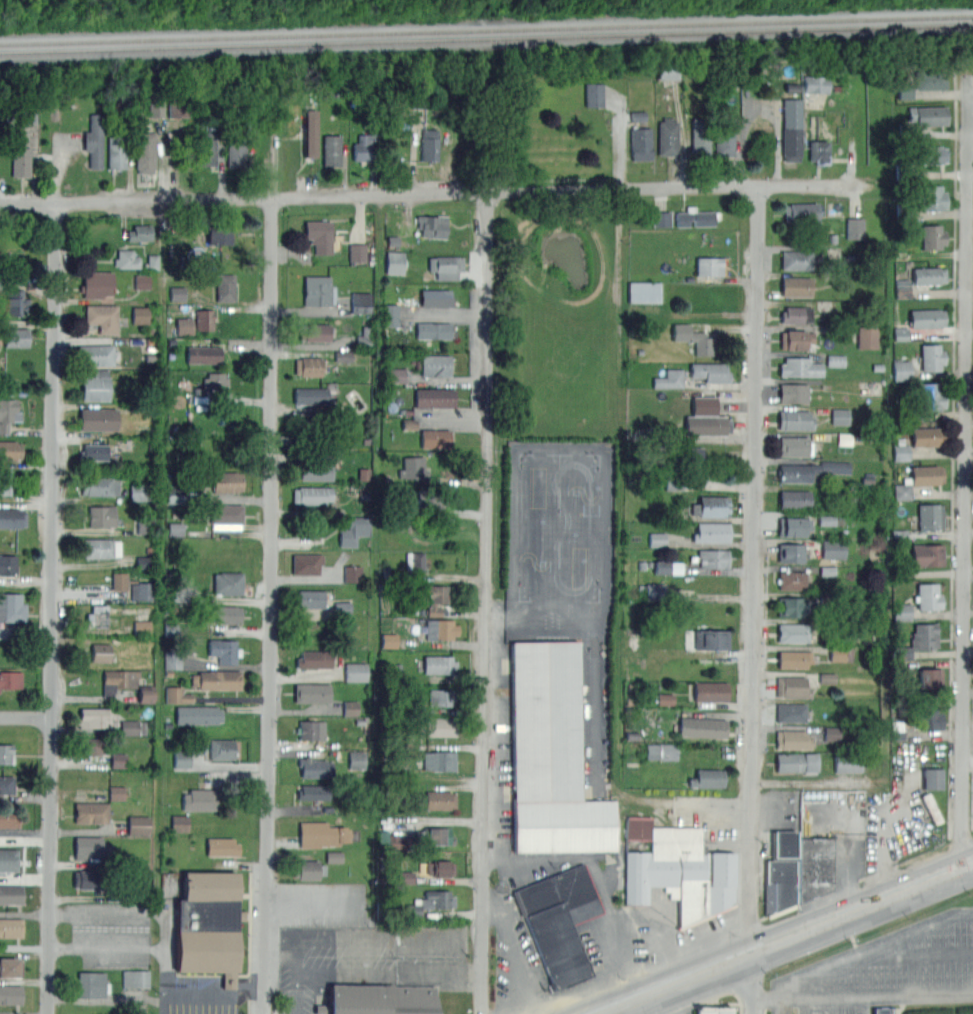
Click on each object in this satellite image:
railway: (486, 29)
railway: (486, 37)
building: (670, 73)
building: (932, 79)
building: (817, 84)
building: (906, 89)
building: (595, 93)
building: (420, 100)
building: (178, 107)
building: (155, 108)
building: (638, 115)
building: (928, 115)
building: (29, 117)
building: (791, 129)
building: (309, 132)
building: (667, 136)
building: (700, 136)
building: (723, 137)
building: (94, 140)
building: (640, 142)
road: (618, 143)
building: (429, 145)
building: (364, 146)
building: (206, 148)
building: (235, 148)
building: (819, 149)
building: (331, 150)
building: (117, 152)
building: (145, 152)
building: (929, 154)
building: (20, 160)
road: (422, 193)
building: (933, 197)
building: (801, 212)
building: (696, 217)
building: (662, 219)
building: (432, 225)
building: (855, 228)
building: (140, 233)
building: (219, 234)
building: (319, 235)
building: (932, 236)
building: (358, 252)
building: (126, 259)
building: (796, 260)
building: (153, 261)
building: (395, 262)
building: (445, 266)
building: (708, 266)
building: (928, 275)
building: (142, 282)
building: (96, 284)
building: (795, 286)
building: (224, 287)
building: (316, 290)
building: (644, 292)
building: (178, 293)
building: (436, 298)
building: (15, 302)
building: (361, 302)
building: (796, 314)
building: (140, 315)
building: (391, 315)
building: (102, 317)
building: (926, 318)
building: (204, 319)
building: (185, 326)
building: (432, 330)
building: (313, 332)
building: (901, 334)
building: (16, 337)
building: (365, 337)
building: (867, 337)
building: (692, 338)
building: (796, 339)
building: (95, 354)
building: (203, 354)
building: (343, 356)
building: (931, 357)
building: (836, 360)
building: (307, 366)
building: (437, 366)
building: (800, 366)
building: (902, 370)
building: (710, 372)
building: (398, 375)
building: (670, 379)
building: (213, 380)
building: (96, 385)
building: (792, 393)
building: (310, 395)
building: (931, 396)
building: (435, 398)
building: (8, 413)
building: (840, 416)
building: (97, 418)
building: (794, 419)
building: (409, 424)
building: (707, 424)
building: (312, 426)
building: (926, 436)
building: (435, 437)
building: (845, 439)
building: (793, 446)
building: (10, 450)
building: (93, 452)
building: (901, 452)
building: (687, 455)
road: (965, 464)
building: (315, 467)
building: (412, 467)
building: (810, 470)
building: (917, 480)
building: (4, 482)
building: (226, 482)
building: (100, 486)
building: (137, 491)
building: (311, 495)
building: (175, 498)
building: (431, 498)
building: (794, 500)
building: (711, 506)
building: (100, 516)
building: (225, 516)
building: (930, 516)
building: (12, 517)
building: (826, 520)
building: (792, 527)
building: (176, 529)
building: (353, 531)
building: (711, 532)
building: (658, 539)
building: (99, 548)
building: (834, 549)
building: (790, 552)
building: (927, 555)
building: (712, 558)
building: (415, 560)
building: (306, 563)
building: (8, 565)
building: (669, 567)
building: (353, 573)
road: (52, 574)
road: (268, 575)
building: (792, 580)
building: (121, 581)
building: (227, 583)
building: (142, 591)
building: (655, 591)
building: (927, 596)
building: (434, 597)
building: (308, 598)
road: (754, 598)
road: (486, 603)
building: (791, 606)
building: (11, 607)
building: (343, 608)
building: (902, 612)
building: (225, 613)
building: (97, 616)
building: (142, 627)
building: (440, 628)
road: (517, 632)
building: (793, 632)
building: (924, 636)
building: (711, 638)
building: (389, 640)
building: (224, 650)
building: (100, 652)
building: (841, 654)
building: (313, 658)
building: (794, 658)
building: (172, 660)
building: (438, 664)
building: (356, 672)
building: (929, 677)
building: (11, 679)
building: (118, 679)
building: (216, 679)
building: (791, 686)
building: (710, 691)
building: (311, 692)
building: (146, 694)
building: (177, 695)
building: (441, 697)
building: (665, 699)
building: (350, 708)
building: (791, 713)
building: (199, 715)
road: (25, 716)
building: (96, 717)
building: (929, 717)
building: (439, 726)
building: (701, 726)
building: (133, 728)
building: (312, 730)
building: (832, 734)
building: (793, 739)
building: (92, 746)
building: (222, 750)
building: (662, 752)
building: (7, 755)
parking lot: (579, 755)
building: (551, 757)
building: (118, 759)
building: (182, 759)
building: (357, 760)
building: (440, 761)
building: (797, 762)
building: (848, 764)
building: (316, 767)
building: (709, 778)
building: (933, 778)
building: (7, 785)
building: (313, 792)
building: (116, 793)
building: (202, 800)
building: (441, 800)
building: (931, 809)
building: (92, 813)
building: (9, 819)
road: (715, 822)
building: (180, 823)
parking lot: (778, 823)
building: (138, 825)
parking lot: (836, 827)
parking lot: (895, 831)
building: (323, 835)
building: (435, 836)
road: (851, 836)
building: (399, 842)
road: (884, 843)
building: (784, 844)
building: (91, 847)
building: (223, 847)
building: (334, 856)
building: (9, 860)
building: (813, 865)
road: (594, 866)
building: (441, 868)
building: (308, 869)
building: (682, 873)
building: (405, 877)
building: (98, 884)
road: (510, 886)
building: (778, 886)
building: (12, 894)
building: (432, 902)
road: (316, 903)
parking lot: (326, 904)
road: (122, 916)
building: (559, 921)
building: (208, 925)
building: (12, 928)
parking lot: (109, 932)
road: (446, 938)
road: (787, 940)
road: (140, 947)
road: (872, 948)
road: (521, 949)
road: (909, 956)
parking lot: (366, 960)
road: (644, 965)
building: (12, 967)
parking lot: (886, 970)
road: (661, 974)
road: (308, 977)
building: (136, 978)
parking lot: (196, 980)
building: (91, 984)
road: (319, 984)
building: (11, 994)
road: (215, 995)
road: (297, 995)
road: (862, 995)
building: (379, 999)
road: (671, 1001)
road: (319, 1003)
building: (713, 1010)
building: (881, 1011)
parking lot: (688, 1012)

